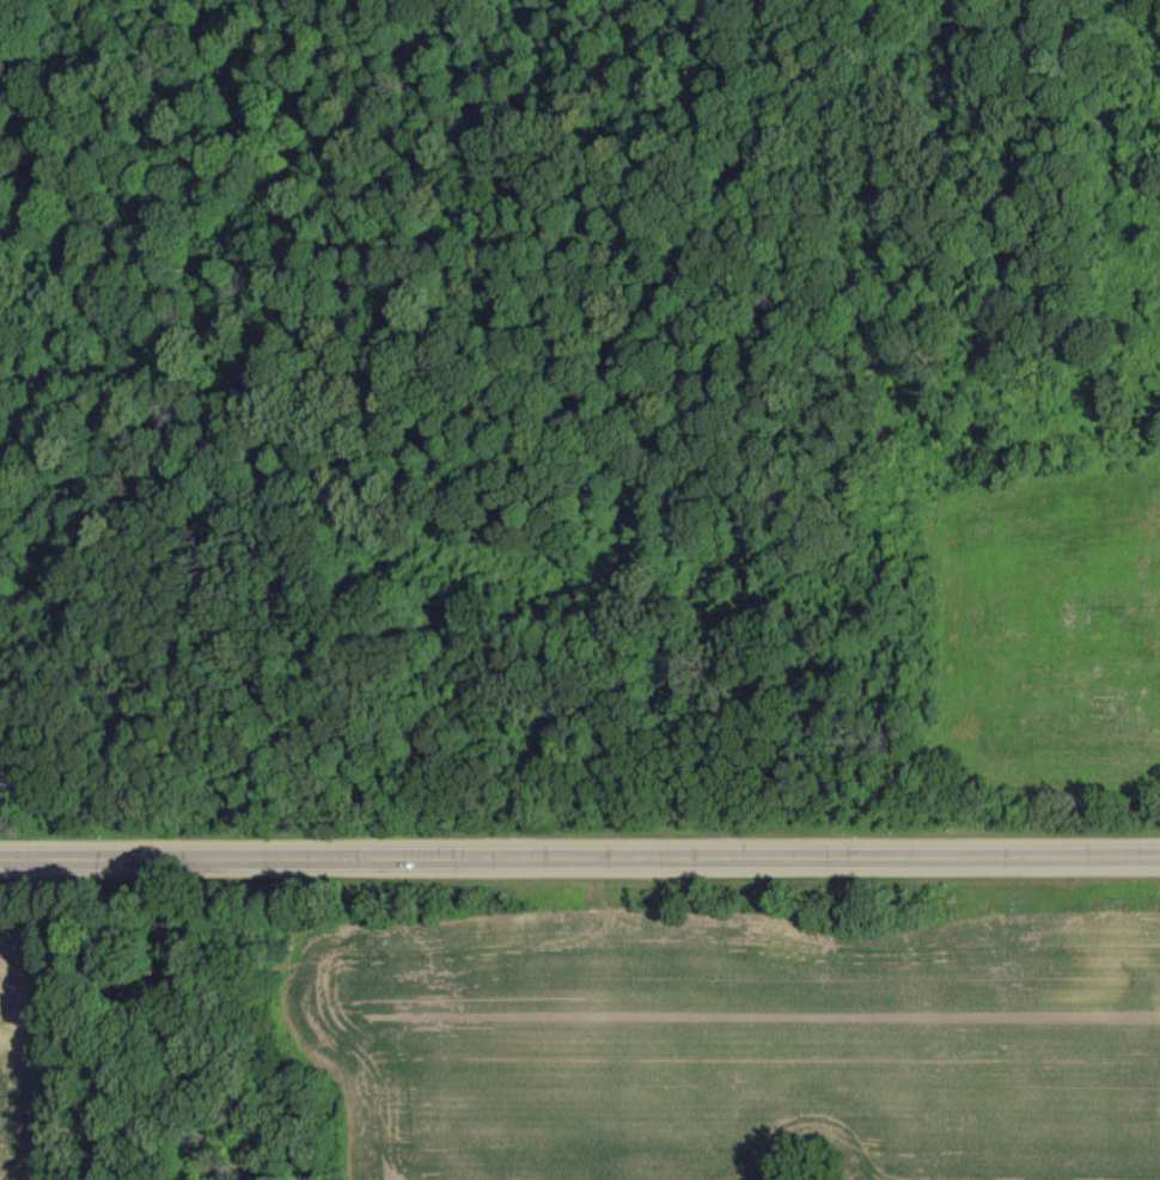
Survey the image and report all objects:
road: (579, 855)

